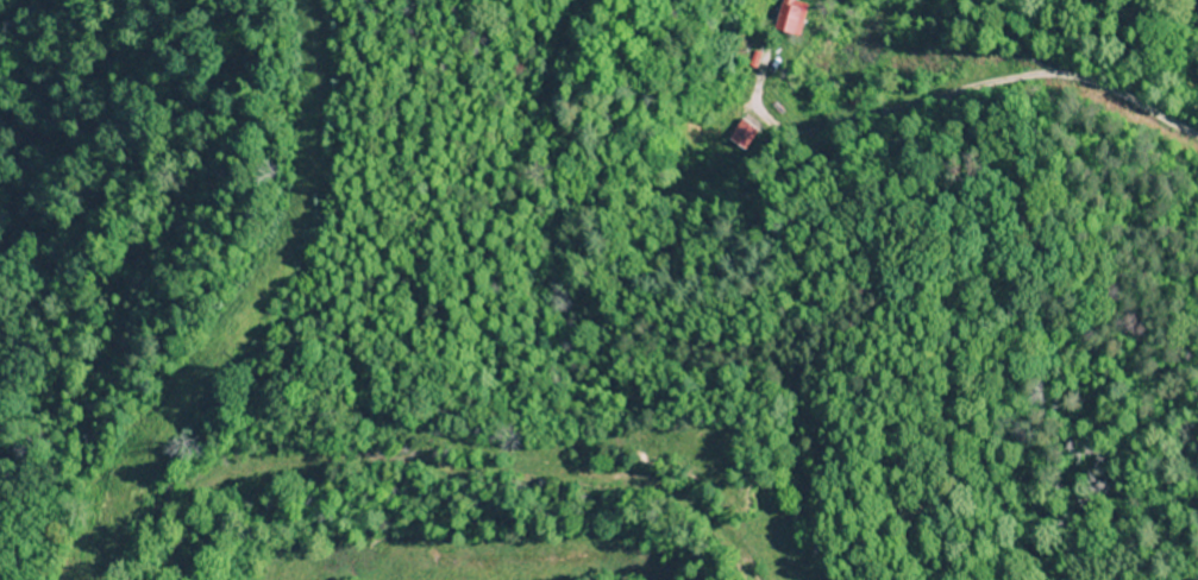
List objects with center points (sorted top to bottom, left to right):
road: (1192, 6)
building: (784, 19)

